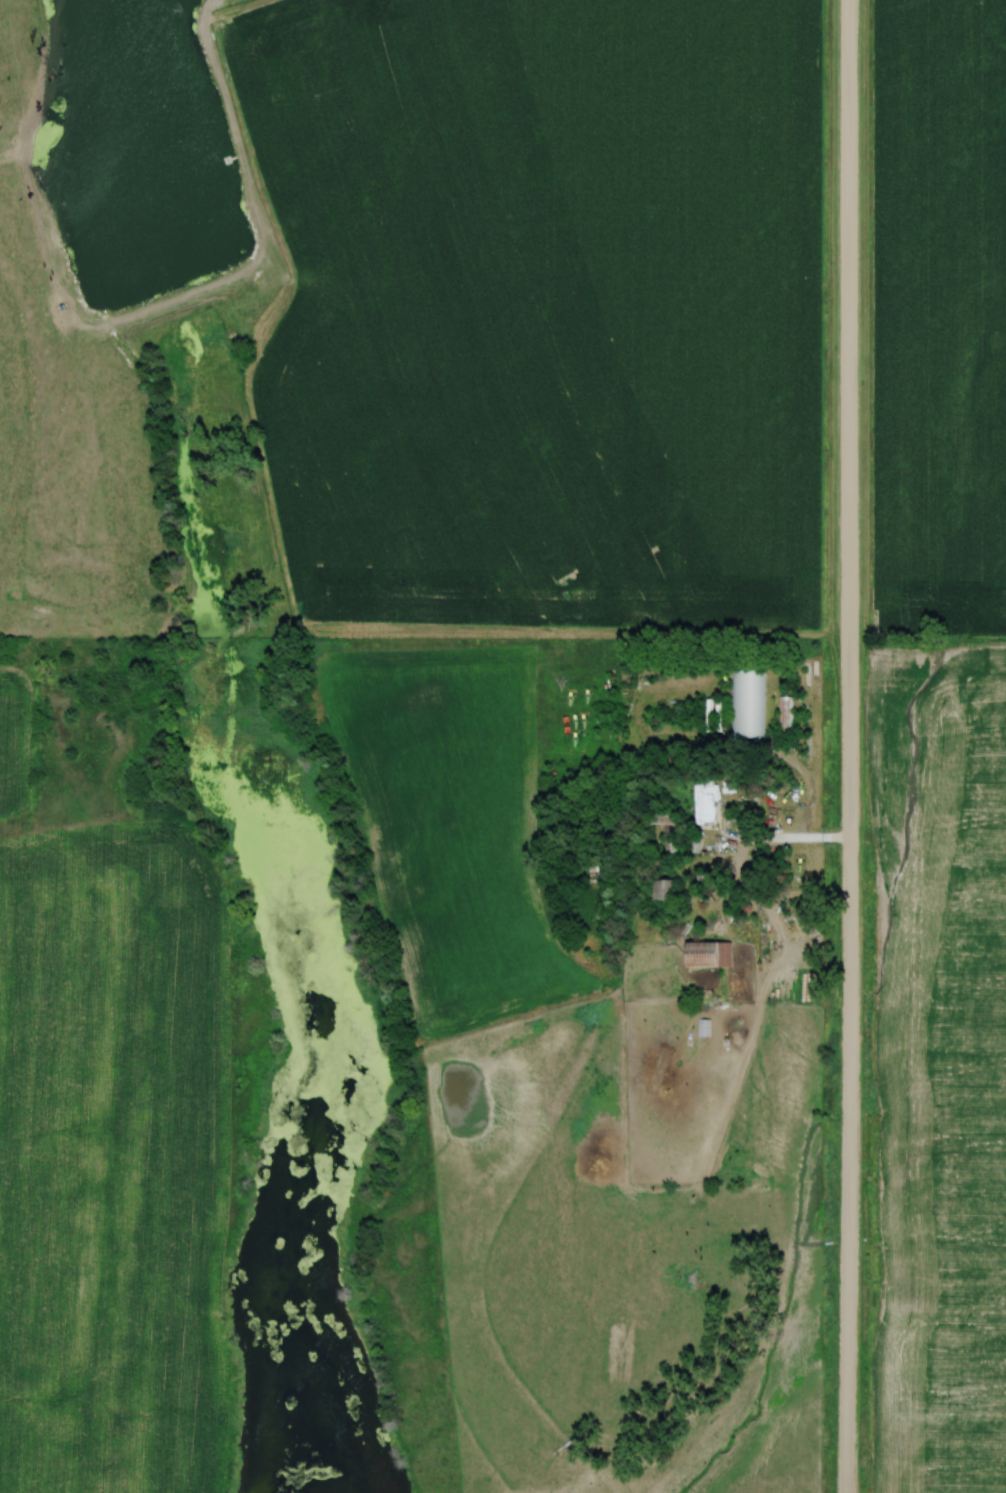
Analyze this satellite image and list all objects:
building: (747, 704)
building: (784, 715)
road: (847, 746)
building: (705, 801)
building: (661, 816)
road: (752, 854)
building: (709, 953)

